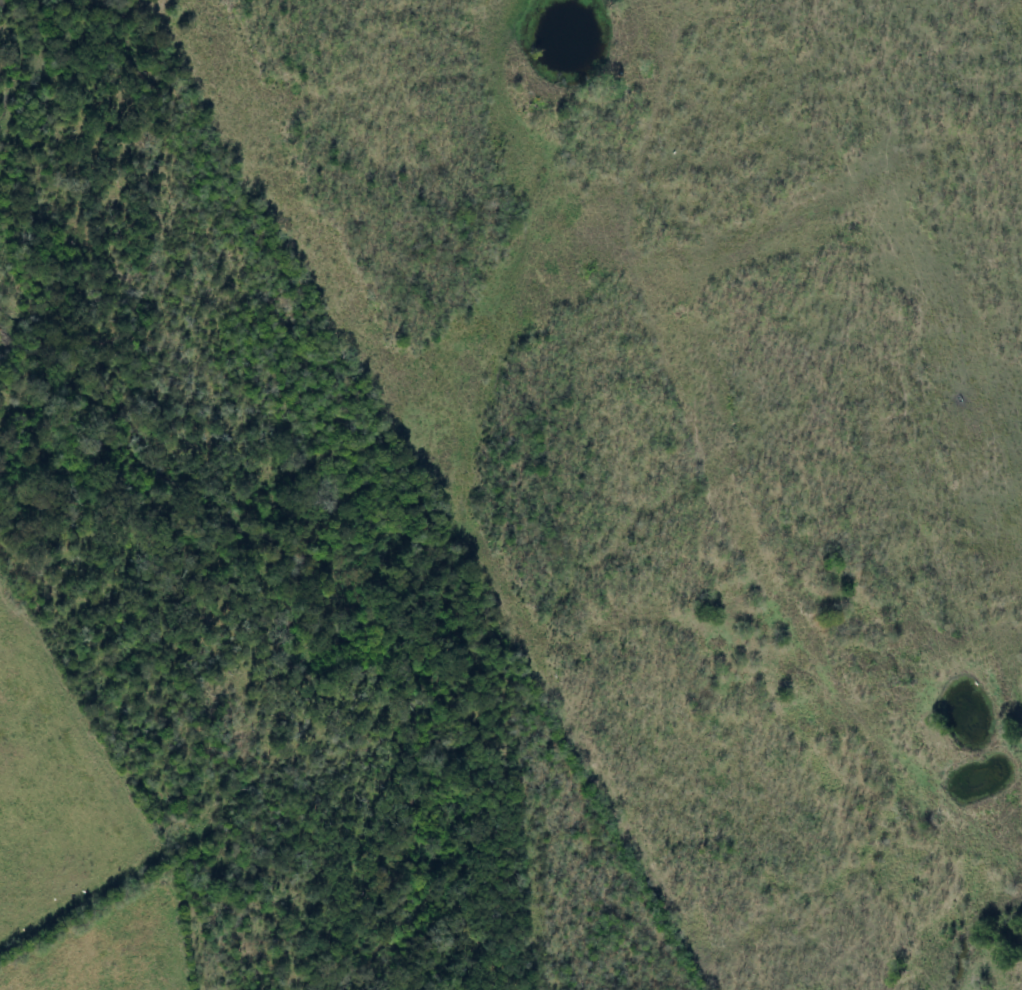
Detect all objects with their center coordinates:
road: (883, 736)

